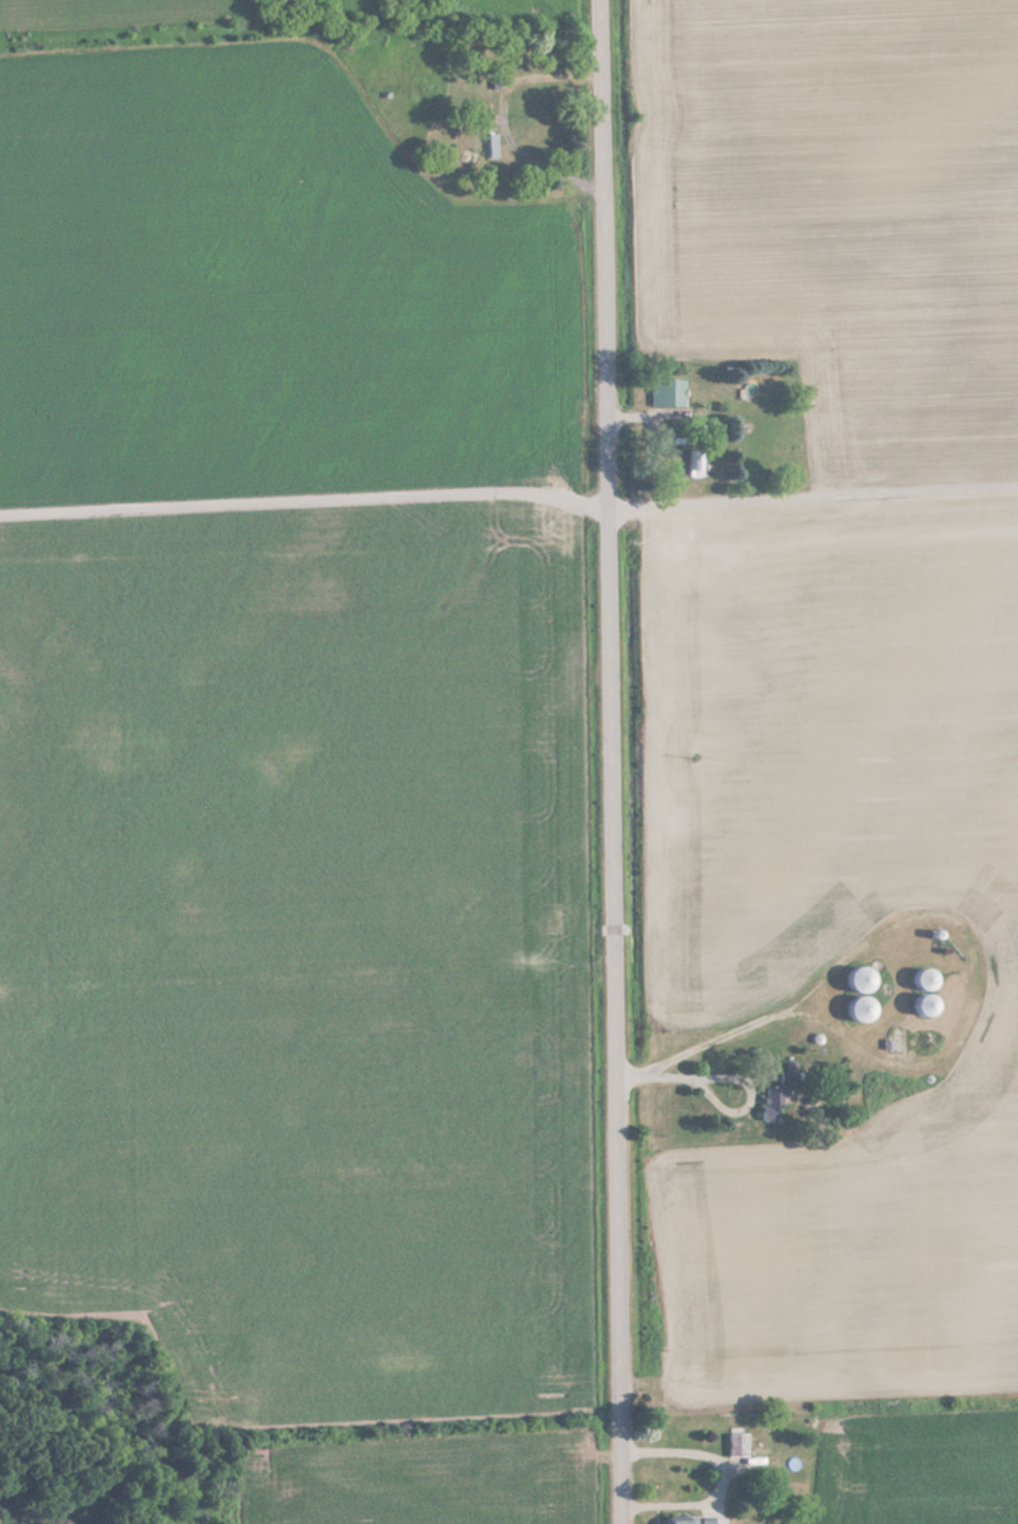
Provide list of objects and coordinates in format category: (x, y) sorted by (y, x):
building: (390, 3)
building: (664, 391)
building: (694, 462)
road: (813, 489)
road: (304, 511)
road: (612, 762)
building: (861, 979)
building: (926, 979)
building: (928, 1005)
building: (862, 1009)
building: (775, 1098)
building: (736, 1445)
building: (695, 1520)

